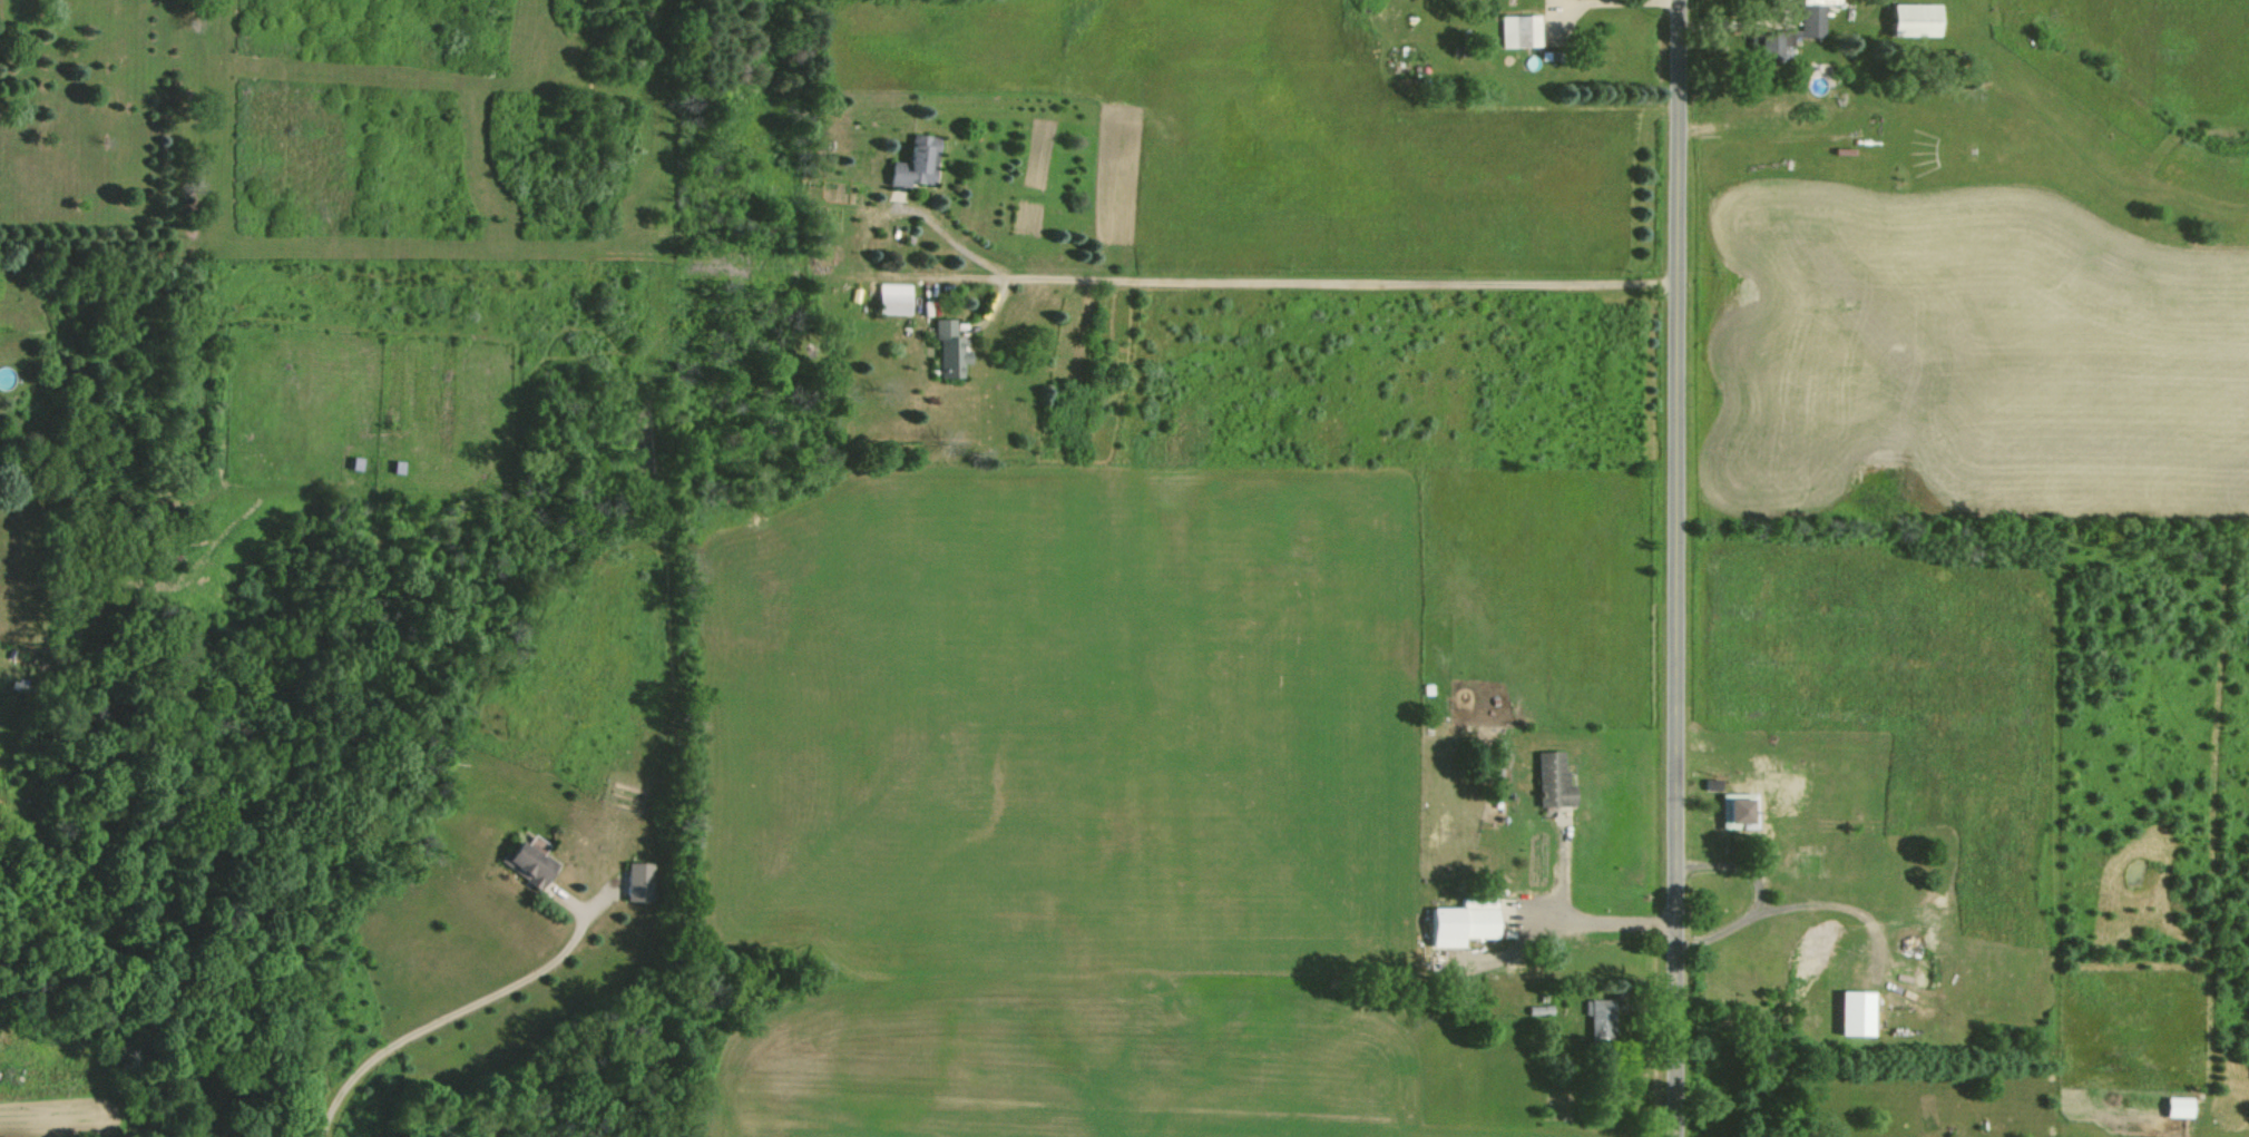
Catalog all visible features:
building: (1807, 17)
building: (1907, 19)
road: (1740, 24)
building: (1513, 30)
building: (910, 161)
road: (1289, 280)
building: (890, 297)
building: (947, 346)
road: (1675, 568)
building: (1546, 780)
building: (1732, 810)
building: (522, 860)
building: (630, 879)
road: (1790, 906)
road: (1577, 912)
building: (1455, 921)
road: (453, 1010)
building: (1850, 1012)
building: (1595, 1017)
building: (2172, 1106)

